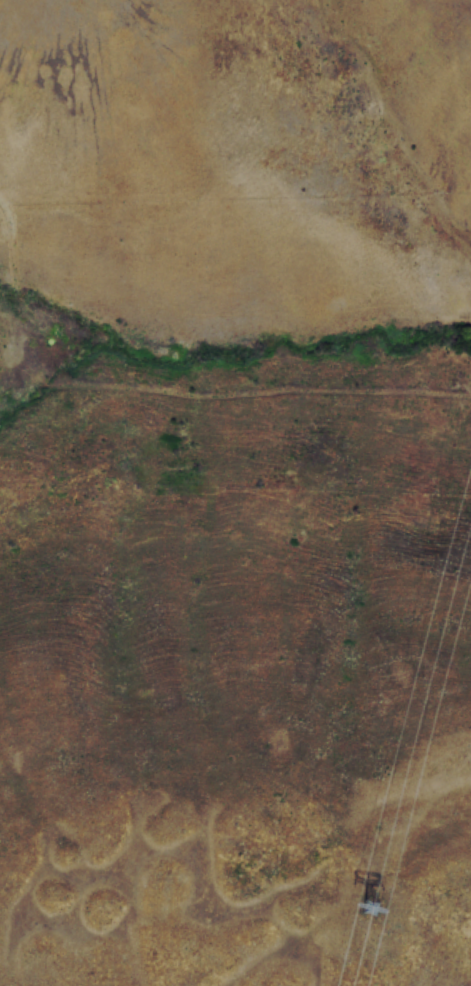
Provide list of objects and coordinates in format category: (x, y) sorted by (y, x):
power tower: (378, 904)

